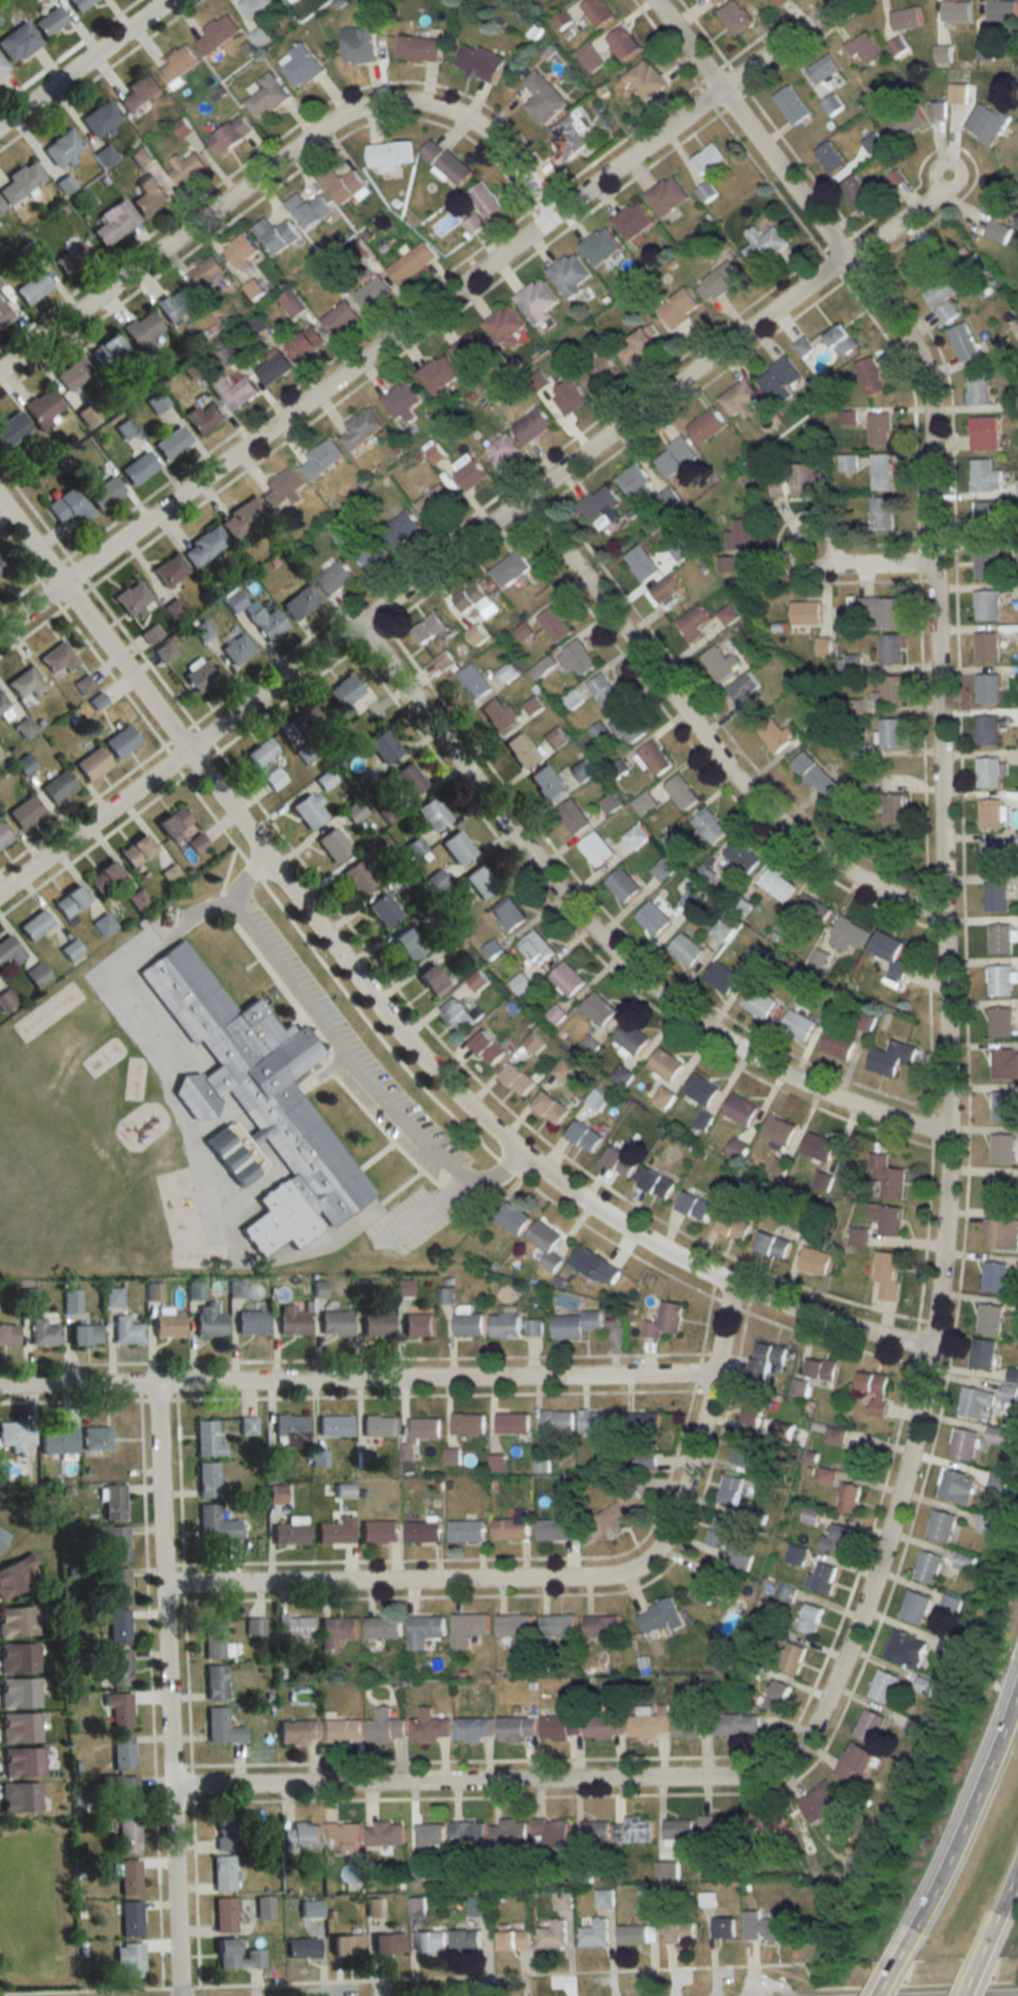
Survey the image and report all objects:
building: (80, 4)
building: (257, 7)
building: (1001, 10)
building: (597, 11)
building: (955, 11)
building: (733, 16)
building: (904, 18)
building: (49, 21)
building: (217, 33)
building: (18, 41)
building: (622, 42)
building: (358, 44)
building: (862, 47)
building: (895, 47)
building: (417, 48)
building: (941, 53)
building: (588, 56)
road: (83, 62)
building: (479, 62)
building: (299, 65)
building: (2, 67)
building: (822, 69)
building: (644, 80)
building: (139, 92)
building: (957, 93)
building: (266, 96)
building: (542, 98)
building: (830, 104)
building: (790, 105)
building: (936, 110)
building: (101, 118)
building: (906, 123)
building: (986, 123)
building: (229, 135)
building: (568, 135)
building: (871, 143)
building: (62, 148)
building: (389, 154)
building: (141, 157)
building: (829, 157)
building: (706, 159)
road: (274, 162)
building: (445, 162)
building: (187, 169)
building: (893, 179)
building: (20, 182)
building: (341, 184)
building: (856, 194)
building: (149, 195)
building: (666, 195)
building: (484, 198)
building: (1, 208)
building: (307, 209)
building: (995, 215)
building: (113, 221)
building: (632, 221)
building: (472, 223)
building: (275, 234)
building: (763, 245)
building: (599, 246)
building: (241, 252)
building: (72, 258)
building: (410, 263)
building: (916, 272)
building: (207, 273)
building: (567, 273)
building: (718, 282)
building: (32, 287)
building: (371, 292)
building: (535, 300)
building: (941, 300)
building: (291, 302)
building: (175, 304)
building: (679, 307)
building: (4, 314)
road: (416, 314)
building: (338, 318)
building: (503, 324)
building: (142, 328)
building: (841, 340)
building: (962, 342)
building: (305, 343)
building: (636, 346)
building: (108, 349)
building: (471, 349)
building: (273, 368)
building: (437, 373)
building: (597, 373)
building: (73, 374)
building: (869, 376)
building: (779, 380)
building: (975, 388)
building: (235, 391)
building: (568, 394)
building: (400, 399)
building: (738, 399)
building: (1011, 405)
building: (43, 406)
building: (203, 417)
building: (531, 424)
building: (705, 424)
building: (126, 427)
building: (12, 429)
building: (360, 429)
building: (878, 429)
building: (983, 433)
building: (172, 442)
building: (502, 446)
building: (674, 456)
building: (322, 458)
building: (847, 462)
building: (139, 467)
building: (468, 471)
building: (880, 471)
building: (983, 476)
building: (804, 480)
building: (634, 482)
building: (776, 487)
building: (283, 489)
building: (105, 492)
building: (666, 497)
building: (433, 502)
building: (69, 505)
building: (600, 507)
building: (987, 512)
building: (880, 513)
building: (242, 516)
building: (400, 527)
road: (472, 531)
building: (741, 534)
building: (204, 546)
building: (370, 550)
building: (679, 550)
road: (869, 560)
building: (640, 563)
building: (726, 563)
building: (984, 563)
building: (3, 564)
building: (509, 569)
building: (170, 570)
building: (333, 577)
building: (663, 589)
building: (132, 599)
building: (303, 600)
building: (475, 600)
building: (233, 601)
building: (985, 605)
building: (881, 611)
building: (804, 613)
building: (726, 614)
building: (267, 622)
building: (692, 622)
building: (553, 624)
building: (427, 628)
building: (202, 630)
building: (523, 631)
building: (151, 633)
building: (985, 647)
building: (236, 649)
building: (889, 649)
building: (165, 652)
building: (575, 658)
building: (58, 660)
building: (442, 661)
building: (715, 664)
building: (541, 667)
building: (198, 675)
building: (473, 682)
building: (25, 685)
building: (986, 689)
building: (602, 691)
building: (890, 691)
building: (742, 692)
building: (351, 694)
building: (98, 701)
building: (3, 704)
building: (532, 706)
building: (496, 716)
building: (303, 722)
building: (626, 726)
building: (986, 731)
building: (774, 734)
building: (890, 734)
road: (704, 736)
building: (555, 738)
building: (121, 742)
building: (384, 747)
building: (521, 750)
building: (305, 754)
building: (653, 757)
building: (265, 763)
building: (92, 764)
building: (25, 765)
building: (582, 770)
building: (988, 772)
building: (812, 775)
building: (325, 780)
building: (409, 780)
building: (545, 784)
building: (58, 788)
building: (680, 792)
building: (609, 803)
building: (888, 807)
building: (309, 810)
building: (25, 813)
building: (433, 814)
building: (989, 814)
building: (570, 817)
building: (708, 826)
building: (181, 831)
building: (3, 836)
building: (634, 837)
building: (333, 844)
building: (457, 847)
building: (595, 849)
building: (136, 850)
road: (942, 854)
building: (992, 855)
building: (740, 857)
building: (661, 870)
building: (104, 877)
building: (358, 878)
building: (482, 881)
building: (775, 884)
building: (622, 885)
building: (995, 897)
building: (138, 899)
building: (70, 900)
building: (384, 910)
building: (811, 910)
building: (508, 914)
building: (652, 919)
building: (35, 924)
building: (104, 924)
road: (160, 928)
building: (721, 931)
building: (847, 934)
road: (604, 936)
building: (1000, 939)
building: (408, 944)
building: (536, 947)
building: (71, 950)
building: (685, 950)
building: (10, 951)
building: (888, 953)
building: (37, 975)
building: (721, 978)
building: (566, 979)
building: (433, 981)
building: (999, 981)
building: (520, 984)
building: (5, 1000)
building: (759, 1003)
road: (392, 1010)
building: (597, 1010)
building: (458, 1016)
building: (865, 1022)
building: (1000, 1022)
building: (798, 1026)
building: (630, 1038)
building: (837, 1045)
building: (487, 1048)
road: (342, 1049)
building: (890, 1058)
building: (664, 1064)
building: (1004, 1064)
building: (564, 1071)
building: (517, 1080)
building: (700, 1090)
building: (259, 1099)
building: (595, 1099)
building: (1003, 1106)
building: (550, 1108)
building: (739, 1109)
building: (777, 1129)
building: (583, 1136)
building: (818, 1147)
building: (1002, 1148)
building: (235, 1153)
building: (619, 1161)
building: (885, 1179)
building: (653, 1182)
building: (1001, 1191)
building: (694, 1206)
road: (425, 1211)
building: (512, 1219)
building: (887, 1219)
building: (733, 1227)
building: (1000, 1234)
building: (545, 1244)
building: (772, 1246)
building: (814, 1262)
building: (594, 1266)
building: (885, 1276)
building: (993, 1277)
building: (28, 1297)
building: (113, 1297)
building: (72, 1301)
building: (210, 1320)
building: (988, 1320)
building: (292, 1321)
building: (664, 1321)
building: (252, 1323)
building: (334, 1323)
building: (376, 1324)
building: (574, 1324)
building: (169, 1325)
building: (468, 1325)
building: (418, 1326)
building: (504, 1326)
building: (533, 1328)
building: (127, 1331)
building: (43, 1333)
building: (8, 1335)
building: (84, 1335)
building: (981, 1354)
building: (764, 1361)
building: (820, 1369)
road: (354, 1382)
building: (799, 1387)
building: (873, 1390)
building: (1008, 1394)
building: (973, 1402)
building: (752, 1411)
building: (556, 1421)
building: (596, 1421)
building: (512, 1423)
building: (467, 1424)
building: (248, 1426)
building: (335, 1426)
building: (379, 1426)
building: (640, 1427)
building: (292, 1430)
building: (419, 1434)
building: (17, 1435)
building: (834, 1436)
building: (997, 1436)
building: (96, 1439)
building: (208, 1440)
building: (58, 1441)
building: (961, 1444)
building: (741, 1449)
building: (495, 1458)
building: (860, 1458)
building: (646, 1461)
building: (208, 1480)
building: (955, 1487)
building: (729, 1491)
building: (277, 1494)
building: (849, 1499)
building: (114, 1502)
building: (613, 1515)
building: (810, 1516)
building: (216, 1524)
building: (984, 1524)
building: (939, 1526)
building: (509, 1529)
building: (553, 1529)
building: (466, 1530)
building: (336, 1531)
building: (379, 1531)
building: (422, 1531)
building: (721, 1532)
building: (290, 1534)
building: (2, 1535)
building: (835, 1540)
building: (114, 1542)
building: (738, 1560)
building: (963, 1561)
building: (926, 1566)
building: (16, 1575)
building: (820, 1578)
road: (555, 1579)
building: (705, 1584)
building: (119, 1586)
building: (783, 1592)
building: (948, 1603)
building: (913, 1607)
building: (659, 1616)
building: (808, 1618)
building: (17, 1621)
building: (513, 1624)
building: (255, 1625)
building: (556, 1625)
building: (600, 1625)
building: (294, 1626)
building: (119, 1627)
building: (381, 1627)
building: (467, 1627)
building: (336, 1631)
building: (425, 1632)
building: (213, 1640)
building: (903, 1648)
building: (791, 1656)
building: (18, 1658)
building: (116, 1666)
building: (215, 1682)
building: (883, 1686)
road: (168, 1690)
building: (19, 1693)
building: (777, 1696)
building: (120, 1710)
building: (690, 1724)
building: (646, 1725)
building: (736, 1725)
building: (222, 1726)
building: (602, 1726)
building: (868, 1726)
building: (385, 1727)
building: (428, 1727)
building: (560, 1727)
building: (20, 1728)
building: (515, 1728)
building: (471, 1729)
building: (341, 1730)
building: (297, 1732)
building: (122, 1752)
building: (852, 1761)
building: (23, 1762)
road: (478, 1783)
building: (125, 1793)
building: (19, 1797)
building: (819, 1801)
building: (764, 1824)
building: (720, 1828)
road: (964, 1828)
building: (677, 1829)
building: (634, 1830)
building: (511, 1831)
building: (226, 1832)
building: (550, 1832)
building: (594, 1832)
building: (468, 1833)
building: (384, 1834)
building: (128, 1835)
building: (301, 1835)
building: (342, 1836)
building: (429, 1838)
building: (223, 1873)
building: (130, 1877)
building: (603, 1898)
building: (562, 1900)
building: (477, 1905)
building: (416, 1906)
building: (264, 1907)
road: (1000, 1913)
building: (224, 1915)
building: (131, 1917)
building: (724, 1927)
building: (767, 1927)
building: (679, 1931)
building: (594, 1933)
building: (552, 1934)
building: (636, 1934)
building: (465, 1939)
building: (514, 1939)
building: (431, 1940)
building: (388, 1942)
building: (347, 1944)
building: (302, 1947)
building: (226, 1953)
building: (130, 1959)
road: (974, 1976)
road: (890, 1977)
road: (1005, 1995)

